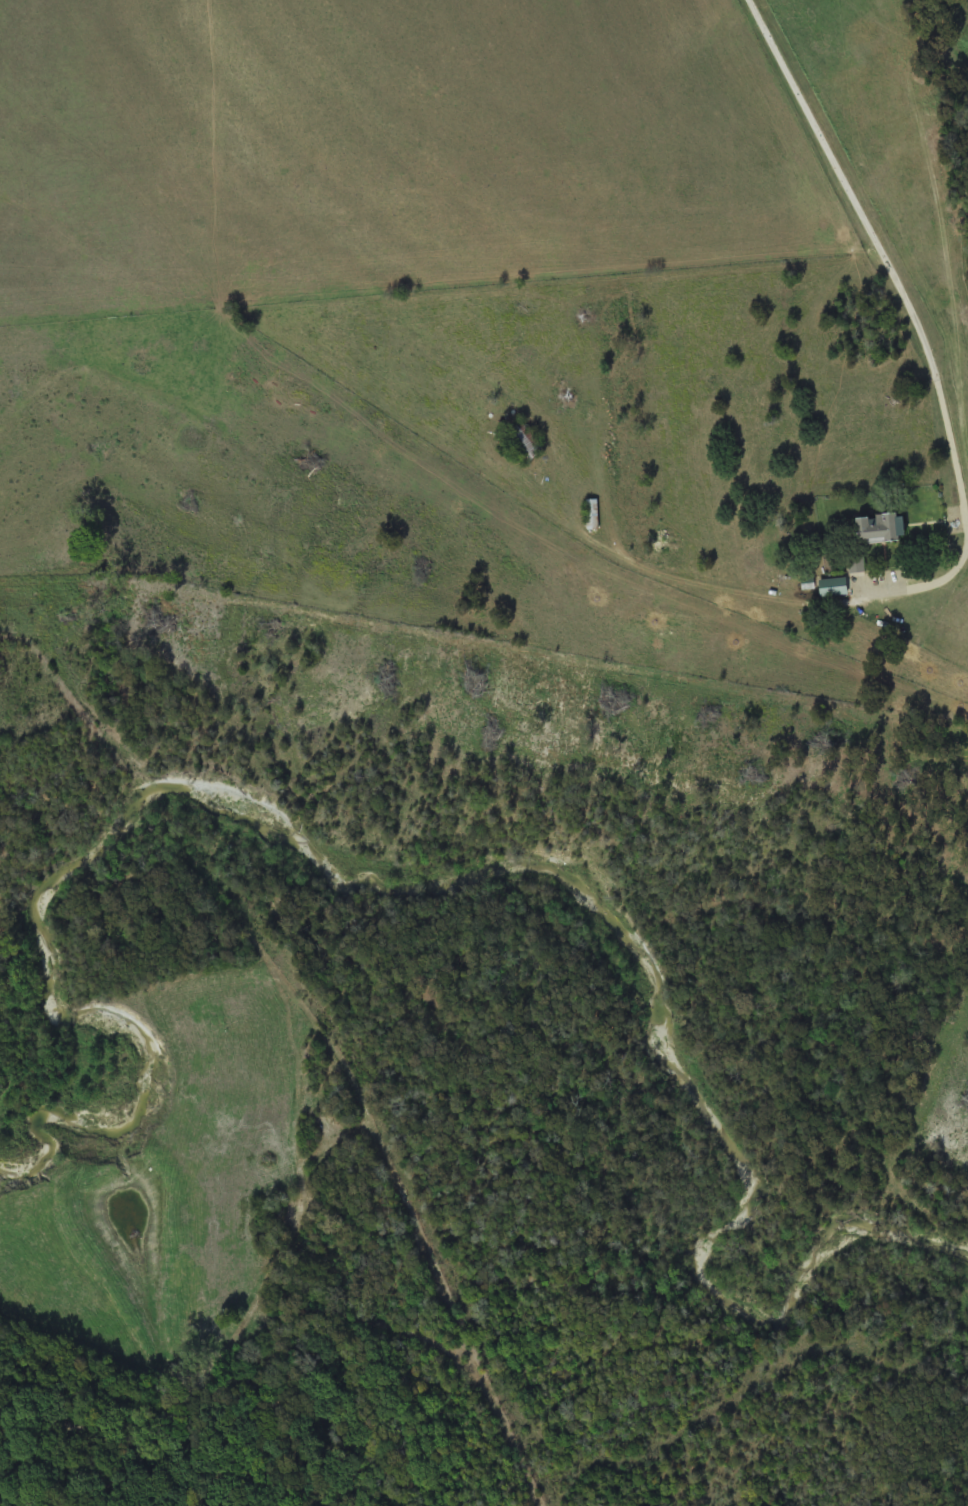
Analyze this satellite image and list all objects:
road: (916, 321)
building: (523, 443)
building: (593, 513)
building: (882, 529)
building: (833, 586)

